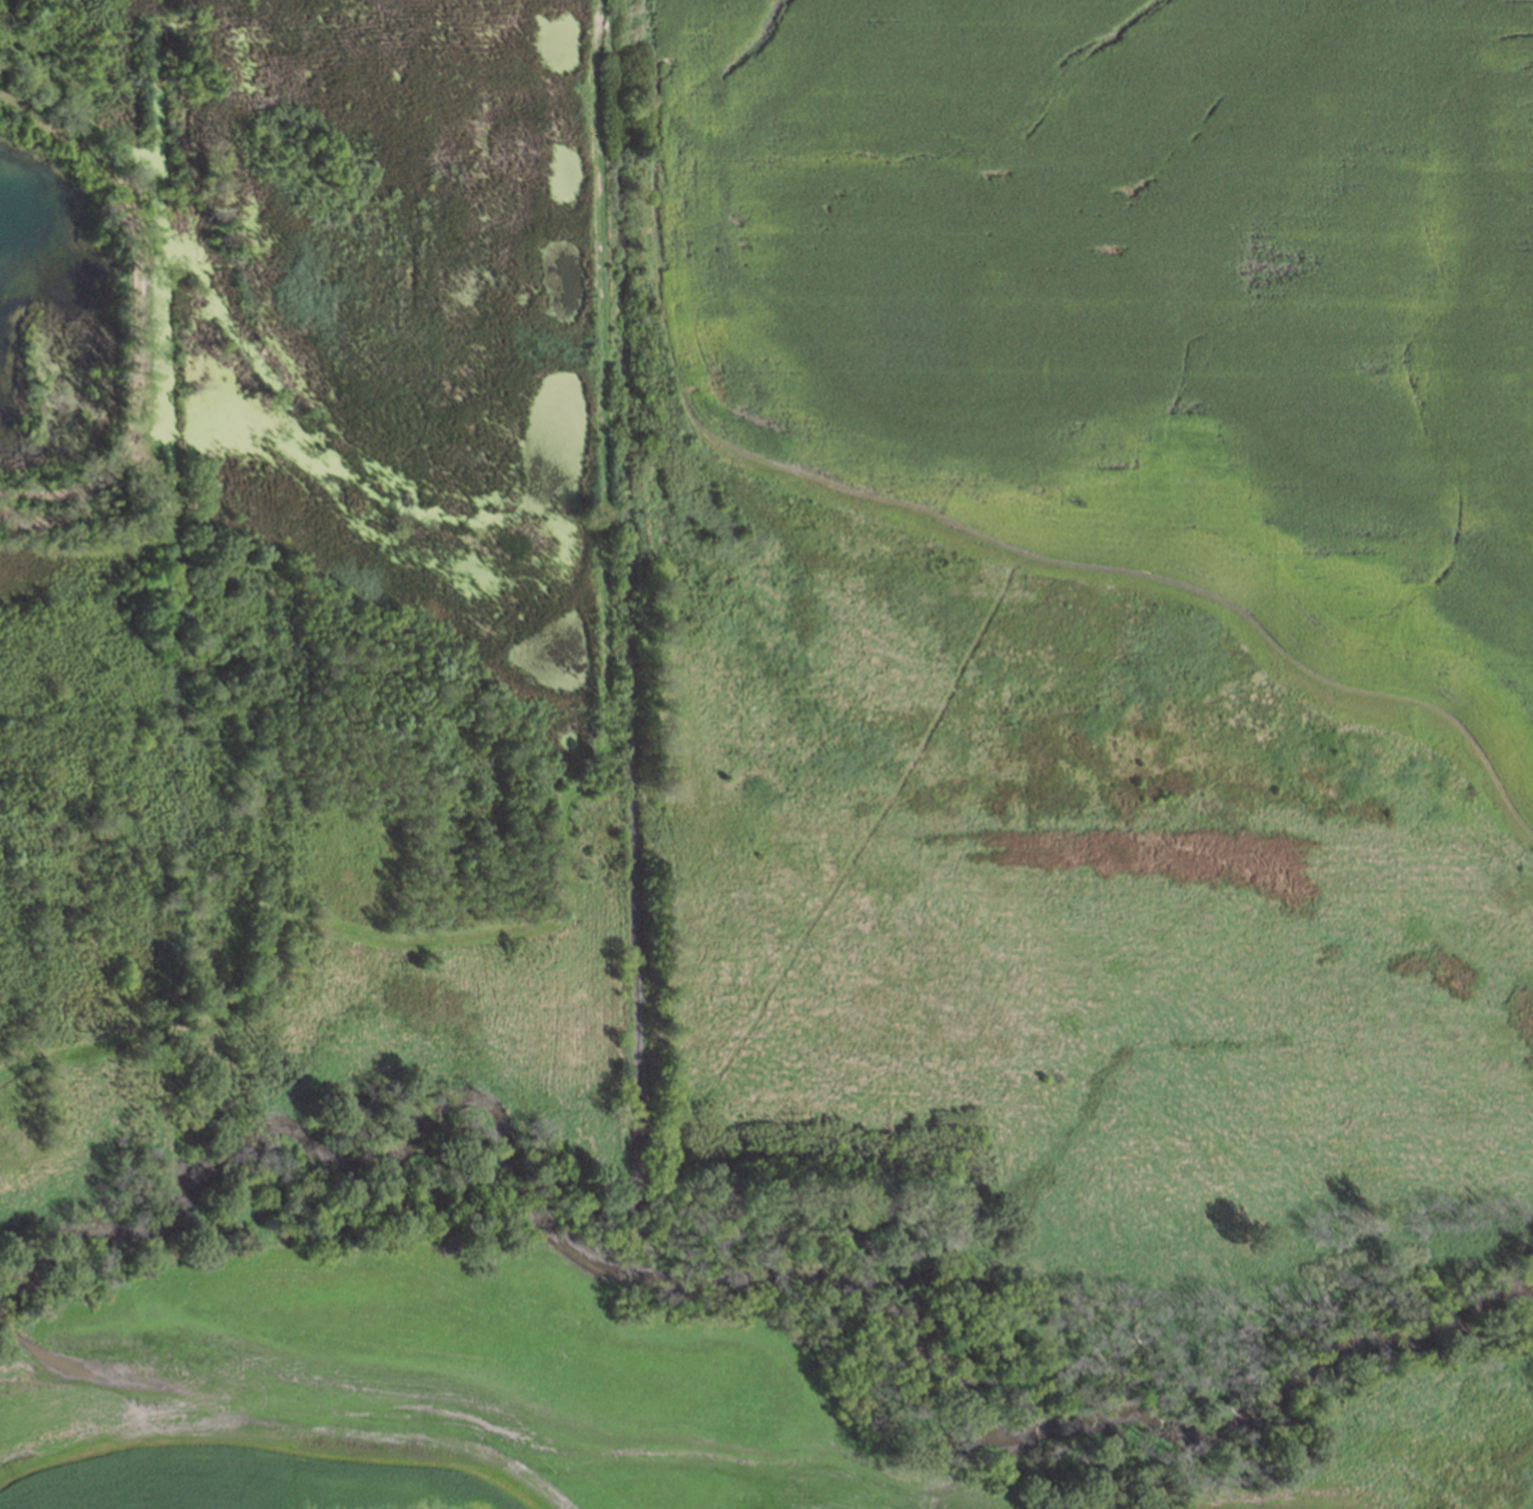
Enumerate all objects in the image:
river: (470, 1143)
river: (77, 1272)
river: (1137, 1443)

